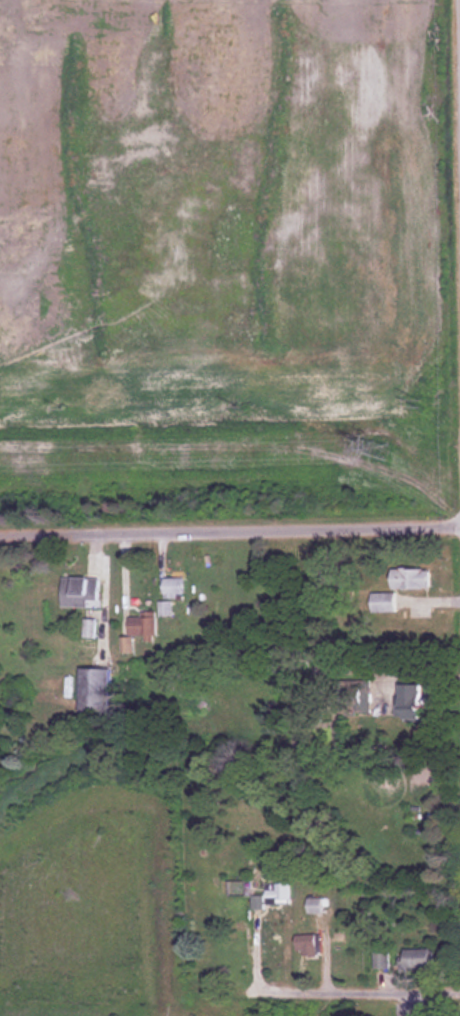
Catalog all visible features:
power tower: (379, 448)
road: (230, 532)
building: (408, 576)
building: (173, 587)
building: (79, 591)
building: (381, 601)
building: (166, 607)
building: (92, 689)
building: (355, 696)
building: (409, 702)
building: (277, 890)
road: (431, 897)
building: (314, 905)
building: (306, 945)
building: (418, 958)
building: (381, 960)
road: (358, 1010)

